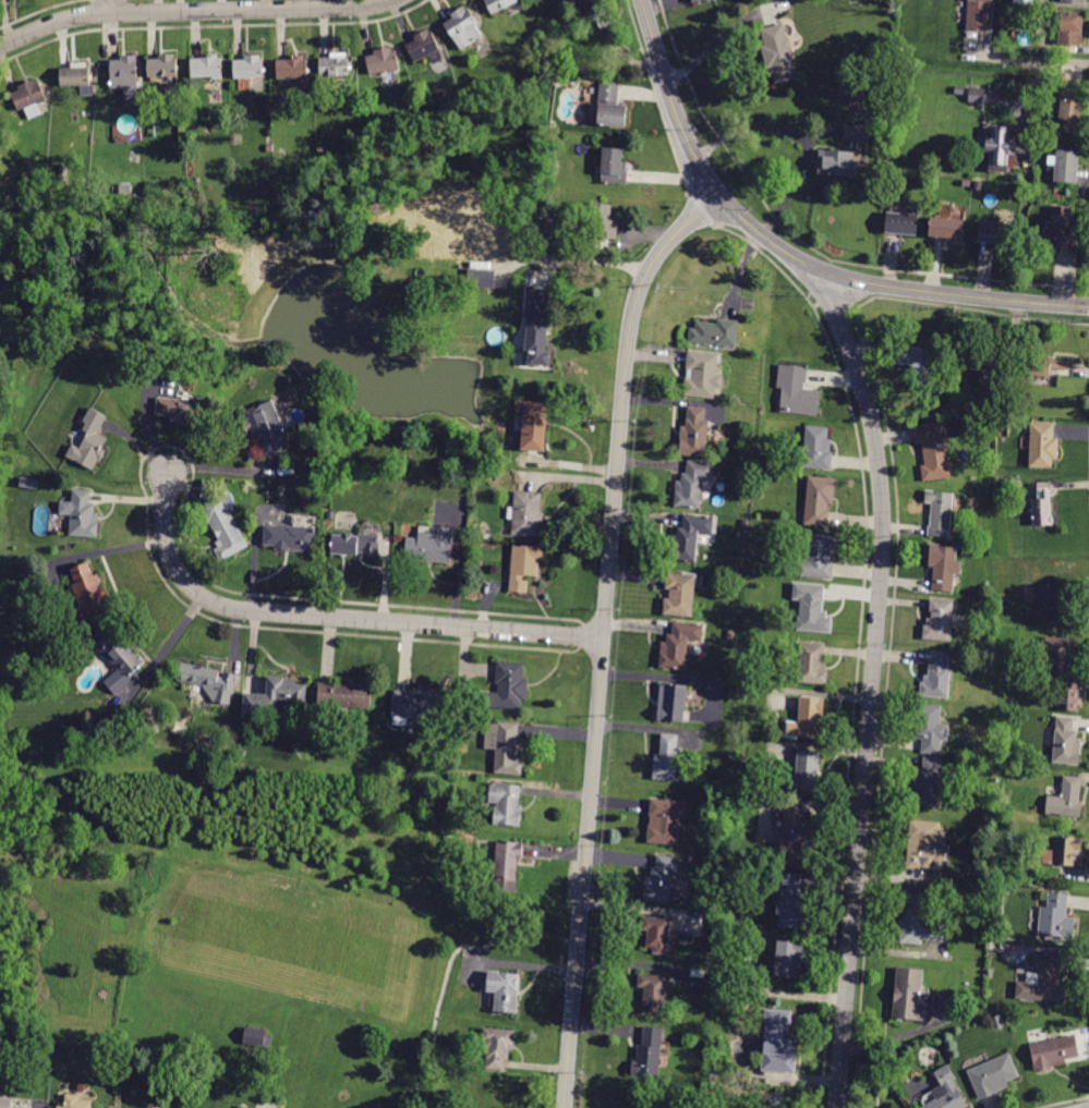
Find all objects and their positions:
building: (694, 0)
building: (1077, 0)
building: (1024, 1)
building: (499, 4)
road: (108, 7)
building: (595, 9)
road: (193, 11)
building: (979, 15)
building: (463, 27)
building: (1073, 27)
building: (423, 46)
building: (778, 53)
road: (1032, 58)
building: (383, 61)
building: (336, 65)
building: (162, 66)
building: (206, 66)
building: (249, 68)
building: (294, 69)
building: (78, 77)
building: (126, 78)
building: (960, 90)
building: (976, 95)
building: (31, 98)
building: (281, 101)
building: (610, 107)
building: (1069, 115)
building: (472, 125)
building: (860, 132)
road: (798, 135)
building: (1000, 148)
building: (271, 149)
building: (322, 149)
building: (283, 155)
building: (837, 162)
building: (1066, 166)
building: (614, 167)
building: (64, 172)
building: (978, 184)
building: (125, 188)
building: (603, 222)
building: (902, 223)
building: (946, 228)
building: (1061, 230)
building: (996, 232)
road: (789, 255)
building: (486, 279)
building: (537, 328)
building: (715, 332)
building: (999, 355)
building: (919, 363)
building: (1045, 365)
building: (703, 375)
building: (989, 378)
building: (797, 392)
building: (287, 398)
building: (182, 410)
building: (534, 426)
building: (268, 427)
building: (694, 433)
building: (90, 441)
building: (1042, 446)
building: (818, 448)
road: (1088, 449)
building: (934, 450)
building: (692, 484)
building: (819, 501)
building: (1042, 506)
building: (940, 512)
building: (82, 514)
building: (527, 514)
building: (223, 527)
building: (690, 537)
building: (290, 538)
building: (355, 545)
building: (431, 546)
building: (820, 556)
building: (524, 567)
building: (945, 567)
building: (88, 594)
building: (680, 595)
building: (1052, 605)
building: (813, 610)
road: (330, 617)
building: (940, 621)
road: (603, 637)
building: (679, 645)
building: (1058, 655)
building: (119, 658)
building: (812, 665)
building: (936, 677)
building: (209, 681)
building: (507, 687)
road: (870, 690)
building: (276, 696)
building: (344, 696)
building: (1069, 696)
building: (671, 703)
building: (418, 706)
building: (807, 718)
building: (931, 728)
building: (1066, 742)
building: (505, 748)
building: (241, 753)
building: (667, 759)
building: (806, 772)
building: (928, 783)
building: (1066, 799)
building: (506, 804)
building: (665, 821)
building: (796, 840)
building: (922, 844)
building: (1063, 852)
building: (508, 865)
building: (661, 880)
building: (792, 903)
building: (1056, 918)
building: (920, 923)
building: (656, 934)
building: (789, 959)
building: (1049, 977)
building: (504, 990)
building: (653, 991)
building: (909, 996)
building: (1007, 1019)
building: (997, 1021)
building: (257, 1038)
building: (778, 1043)
building: (497, 1047)
building: (1054, 1052)
building: (649, 1054)
building: (994, 1075)
building: (712, 1077)
building: (946, 1092)
building: (775, 1100)
building: (76, 1101)
road: (1063, 1101)
building: (5, 1103)
building: (217, 1107)
building: (242, 1107)

